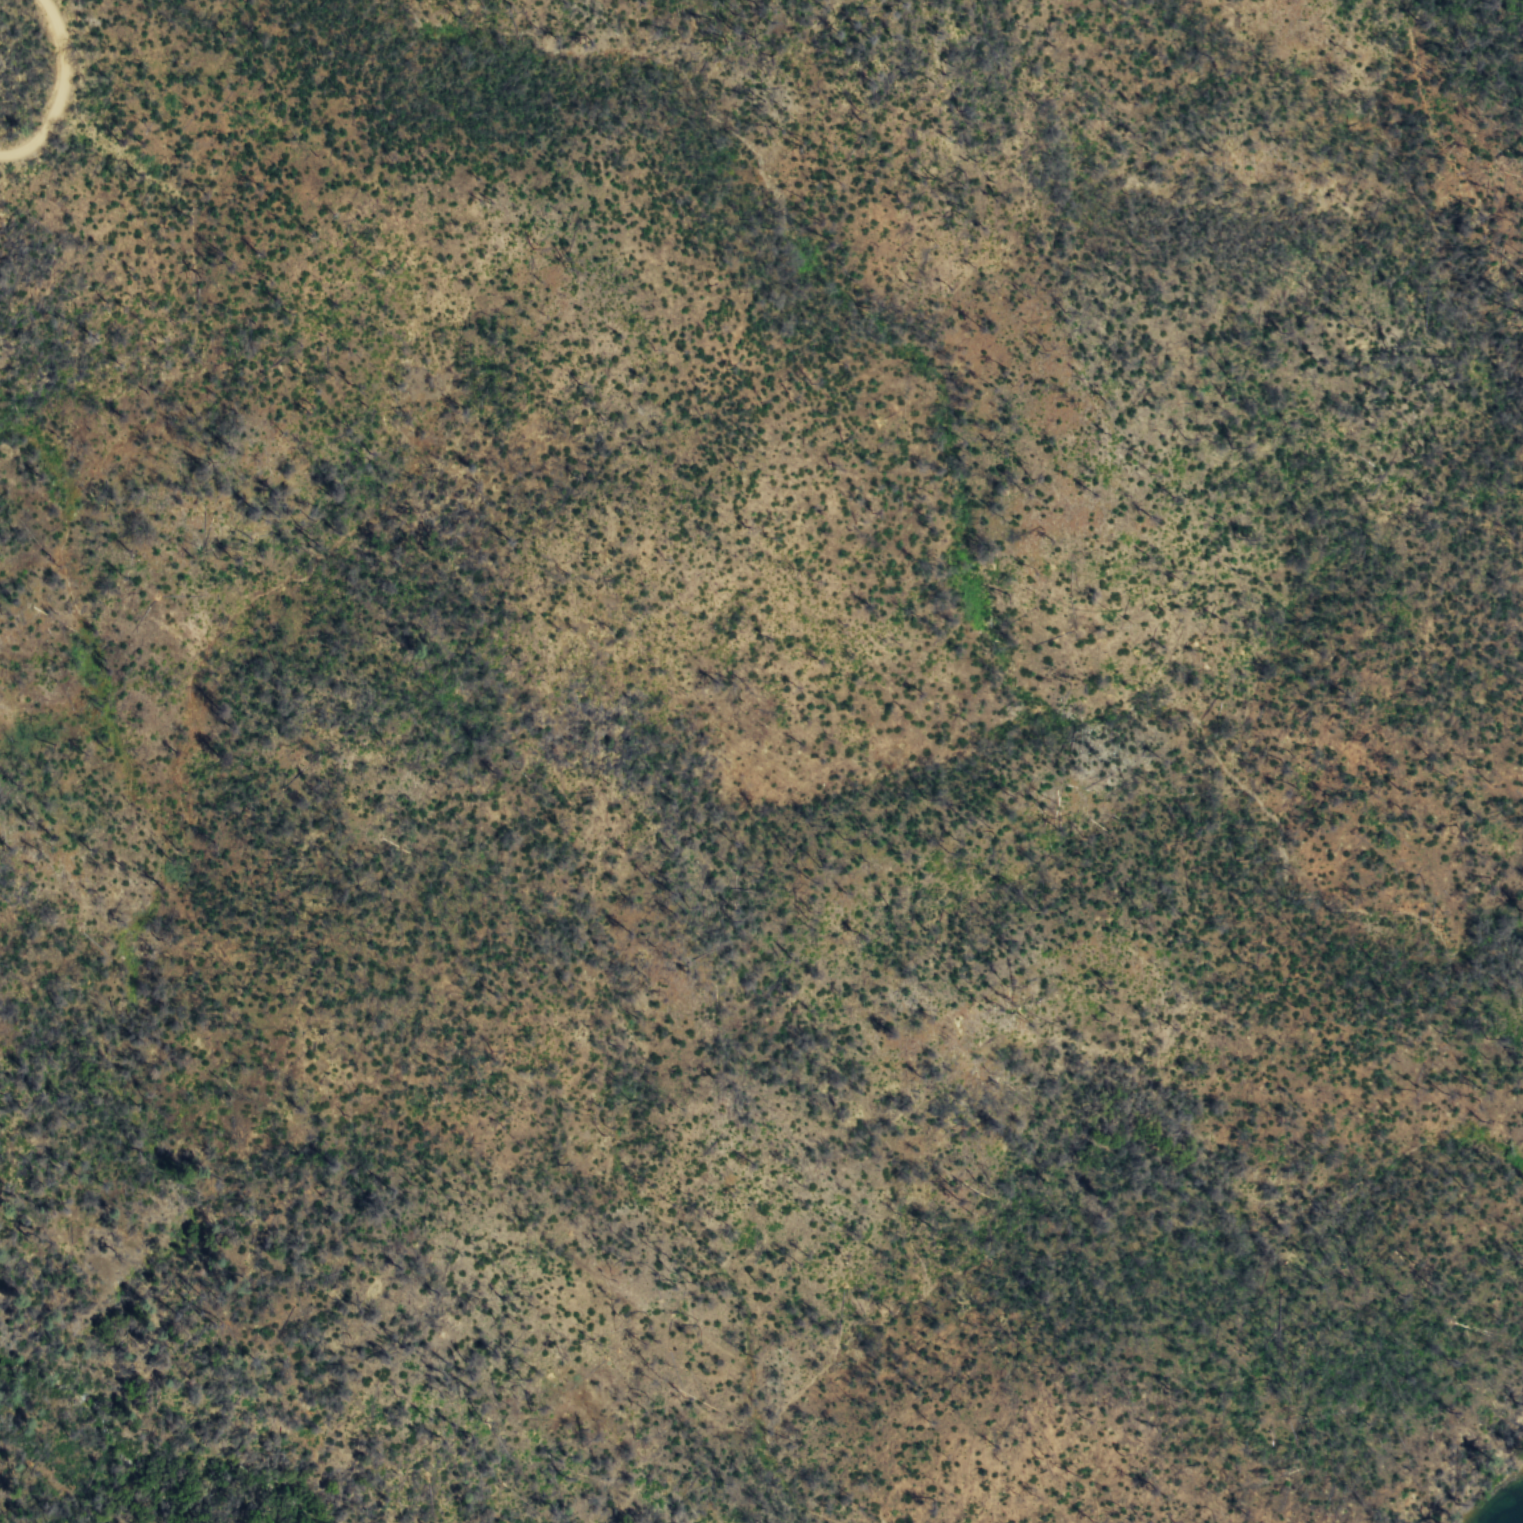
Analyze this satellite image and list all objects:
road: (63, 92)

